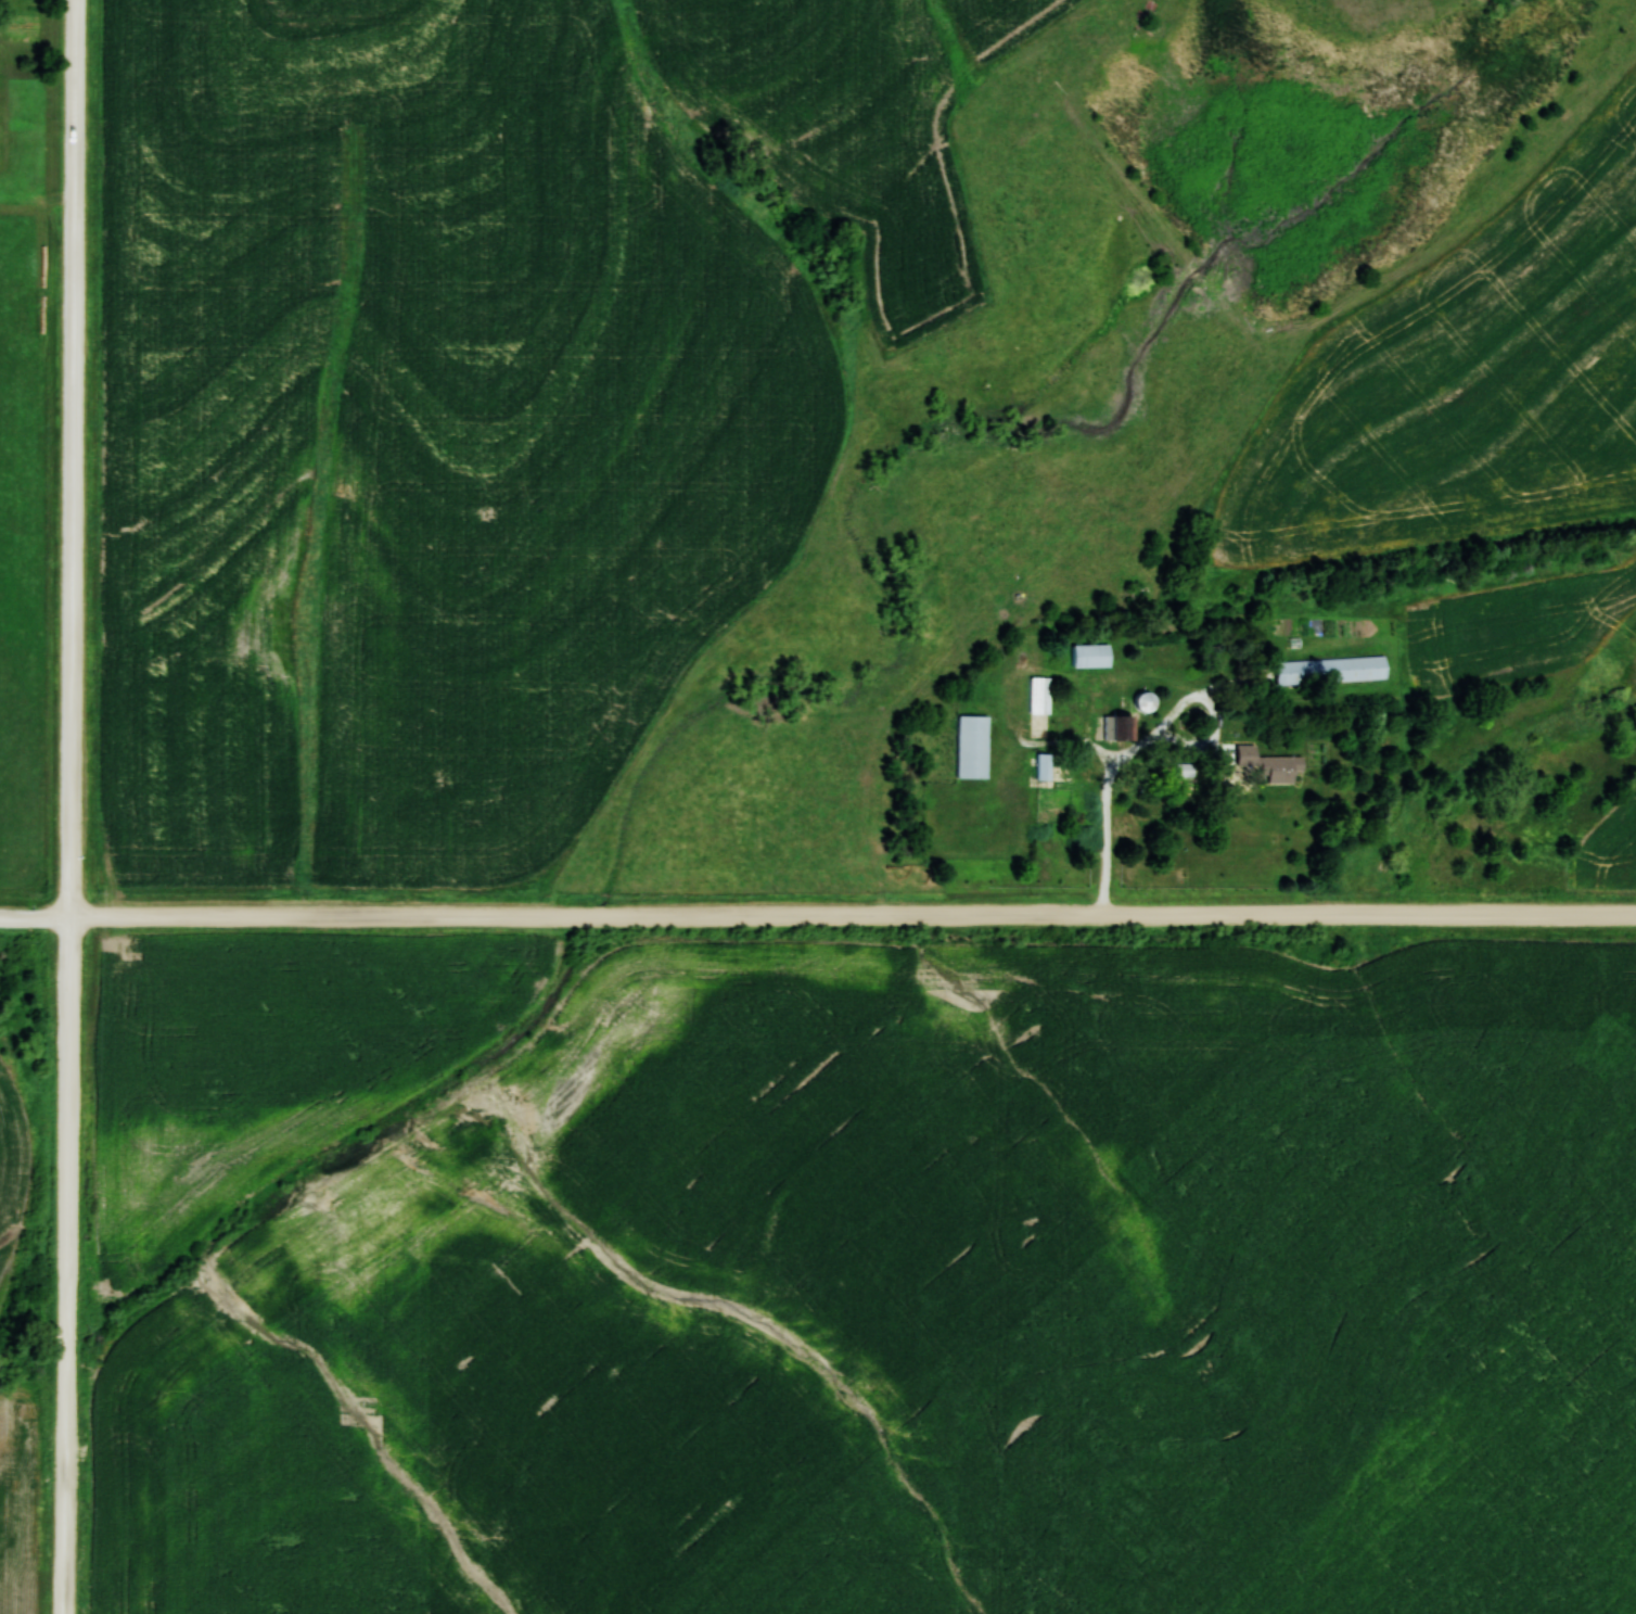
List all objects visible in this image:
dam: (1164, 224)
building: (1091, 655)
building: (1330, 671)
building: (1147, 701)
building: (1121, 727)
building: (973, 747)
building: (1270, 764)
building: (1045, 765)
road: (71, 806)
road: (817, 916)

